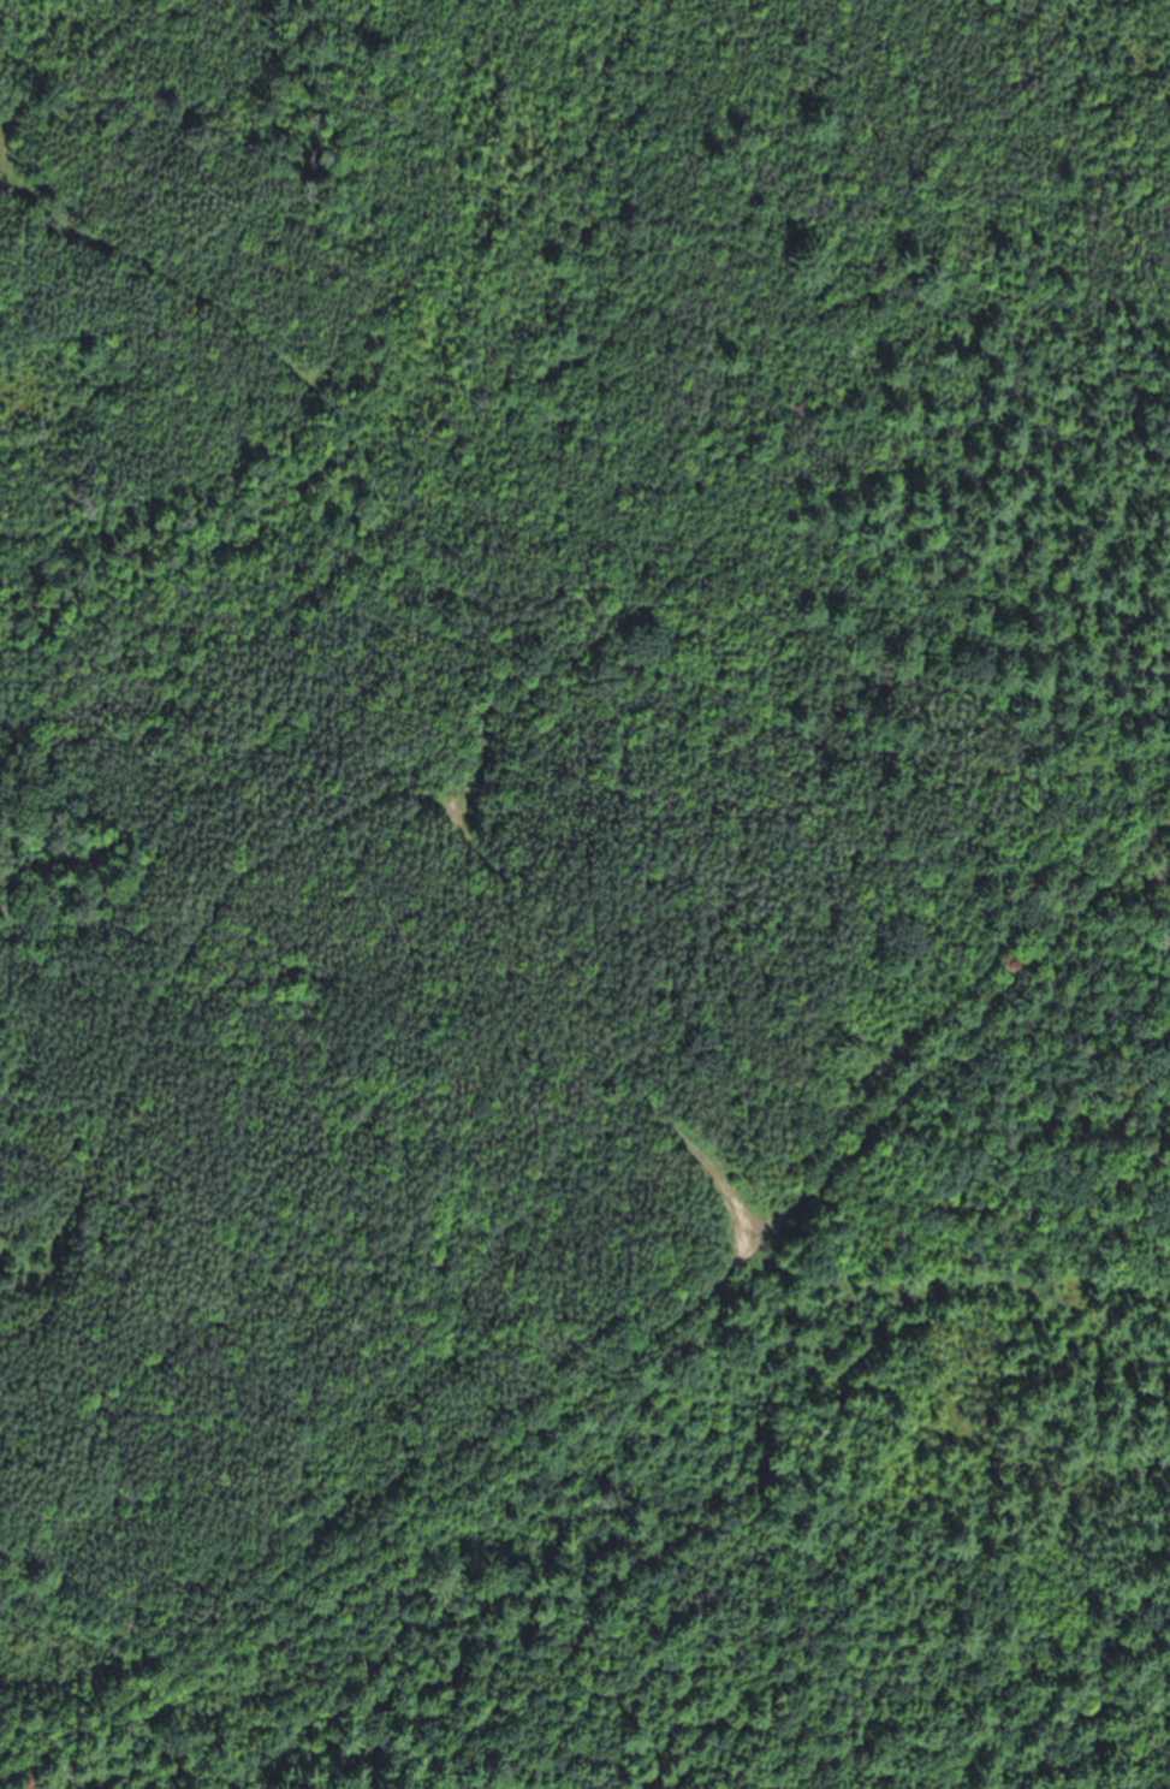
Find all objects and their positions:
road: (622, 1344)

